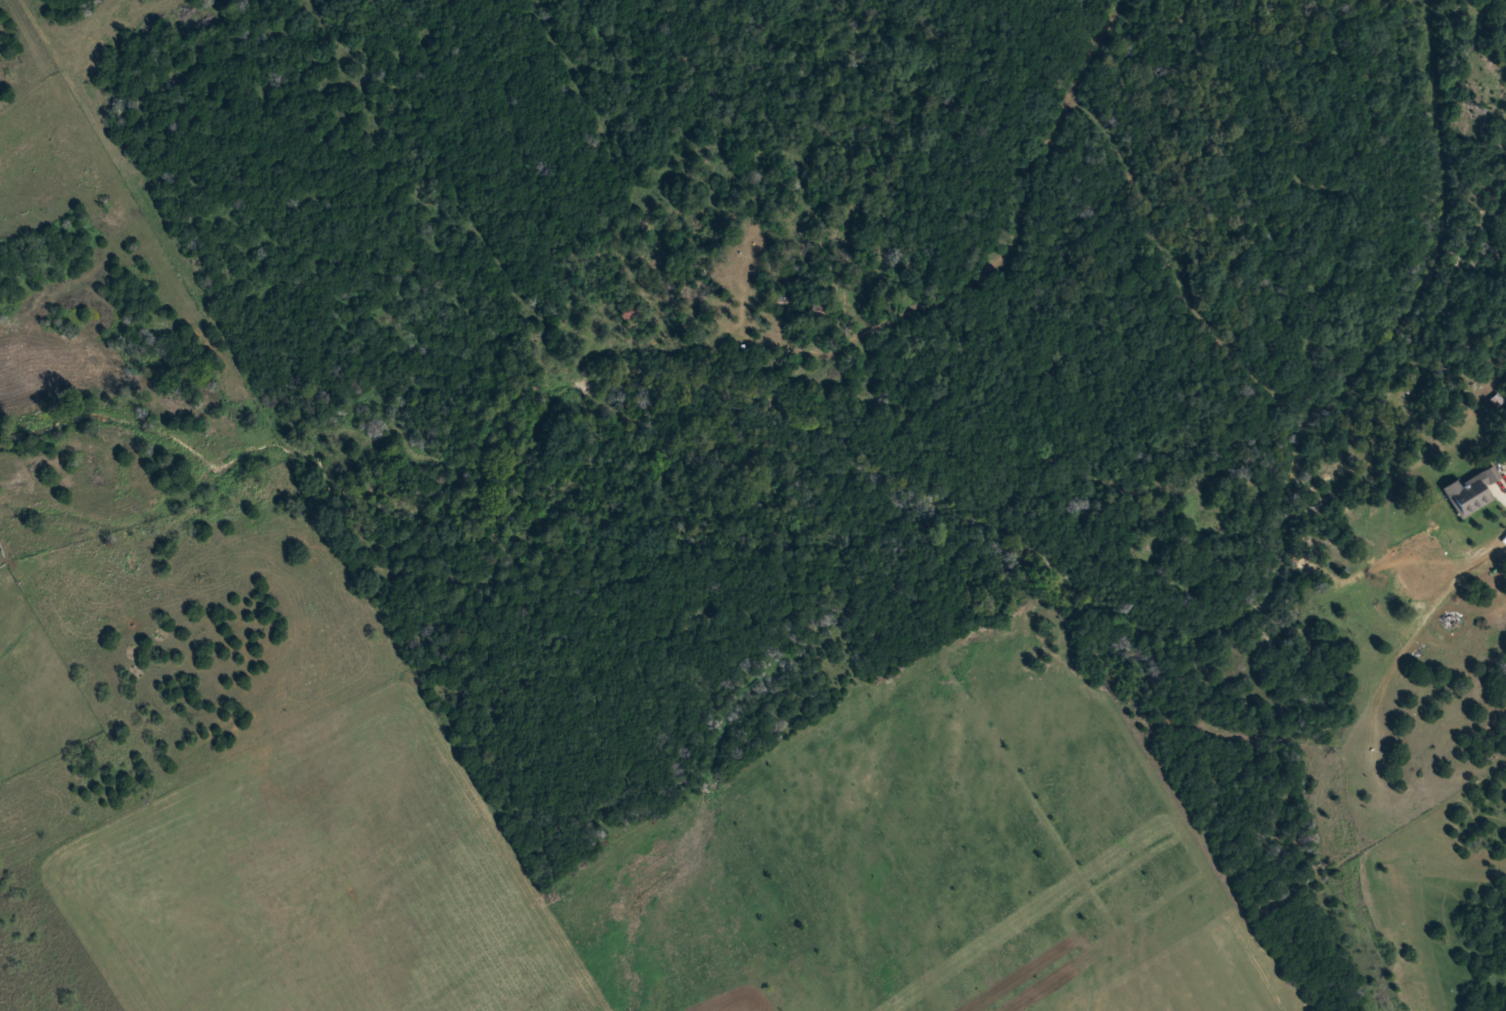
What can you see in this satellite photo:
building: (1470, 491)

